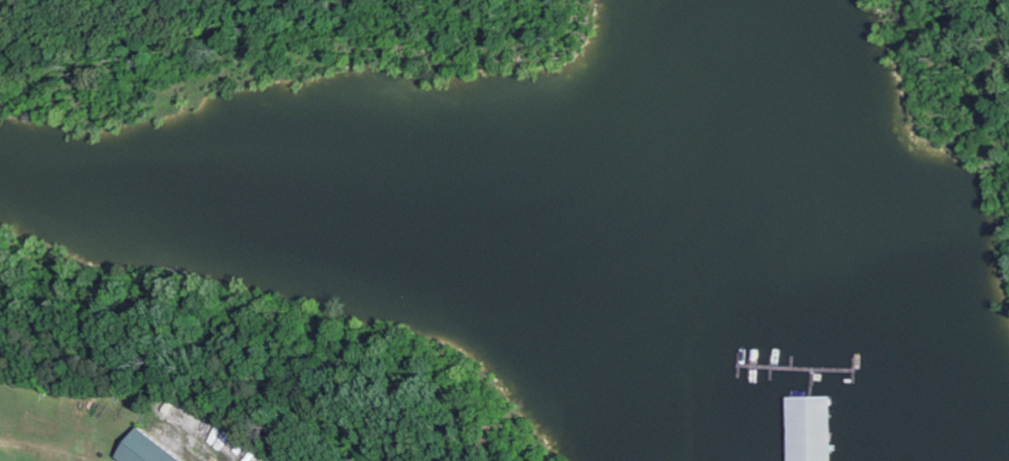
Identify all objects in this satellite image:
park: (251, 56)
park: (227, 370)
building: (140, 449)

